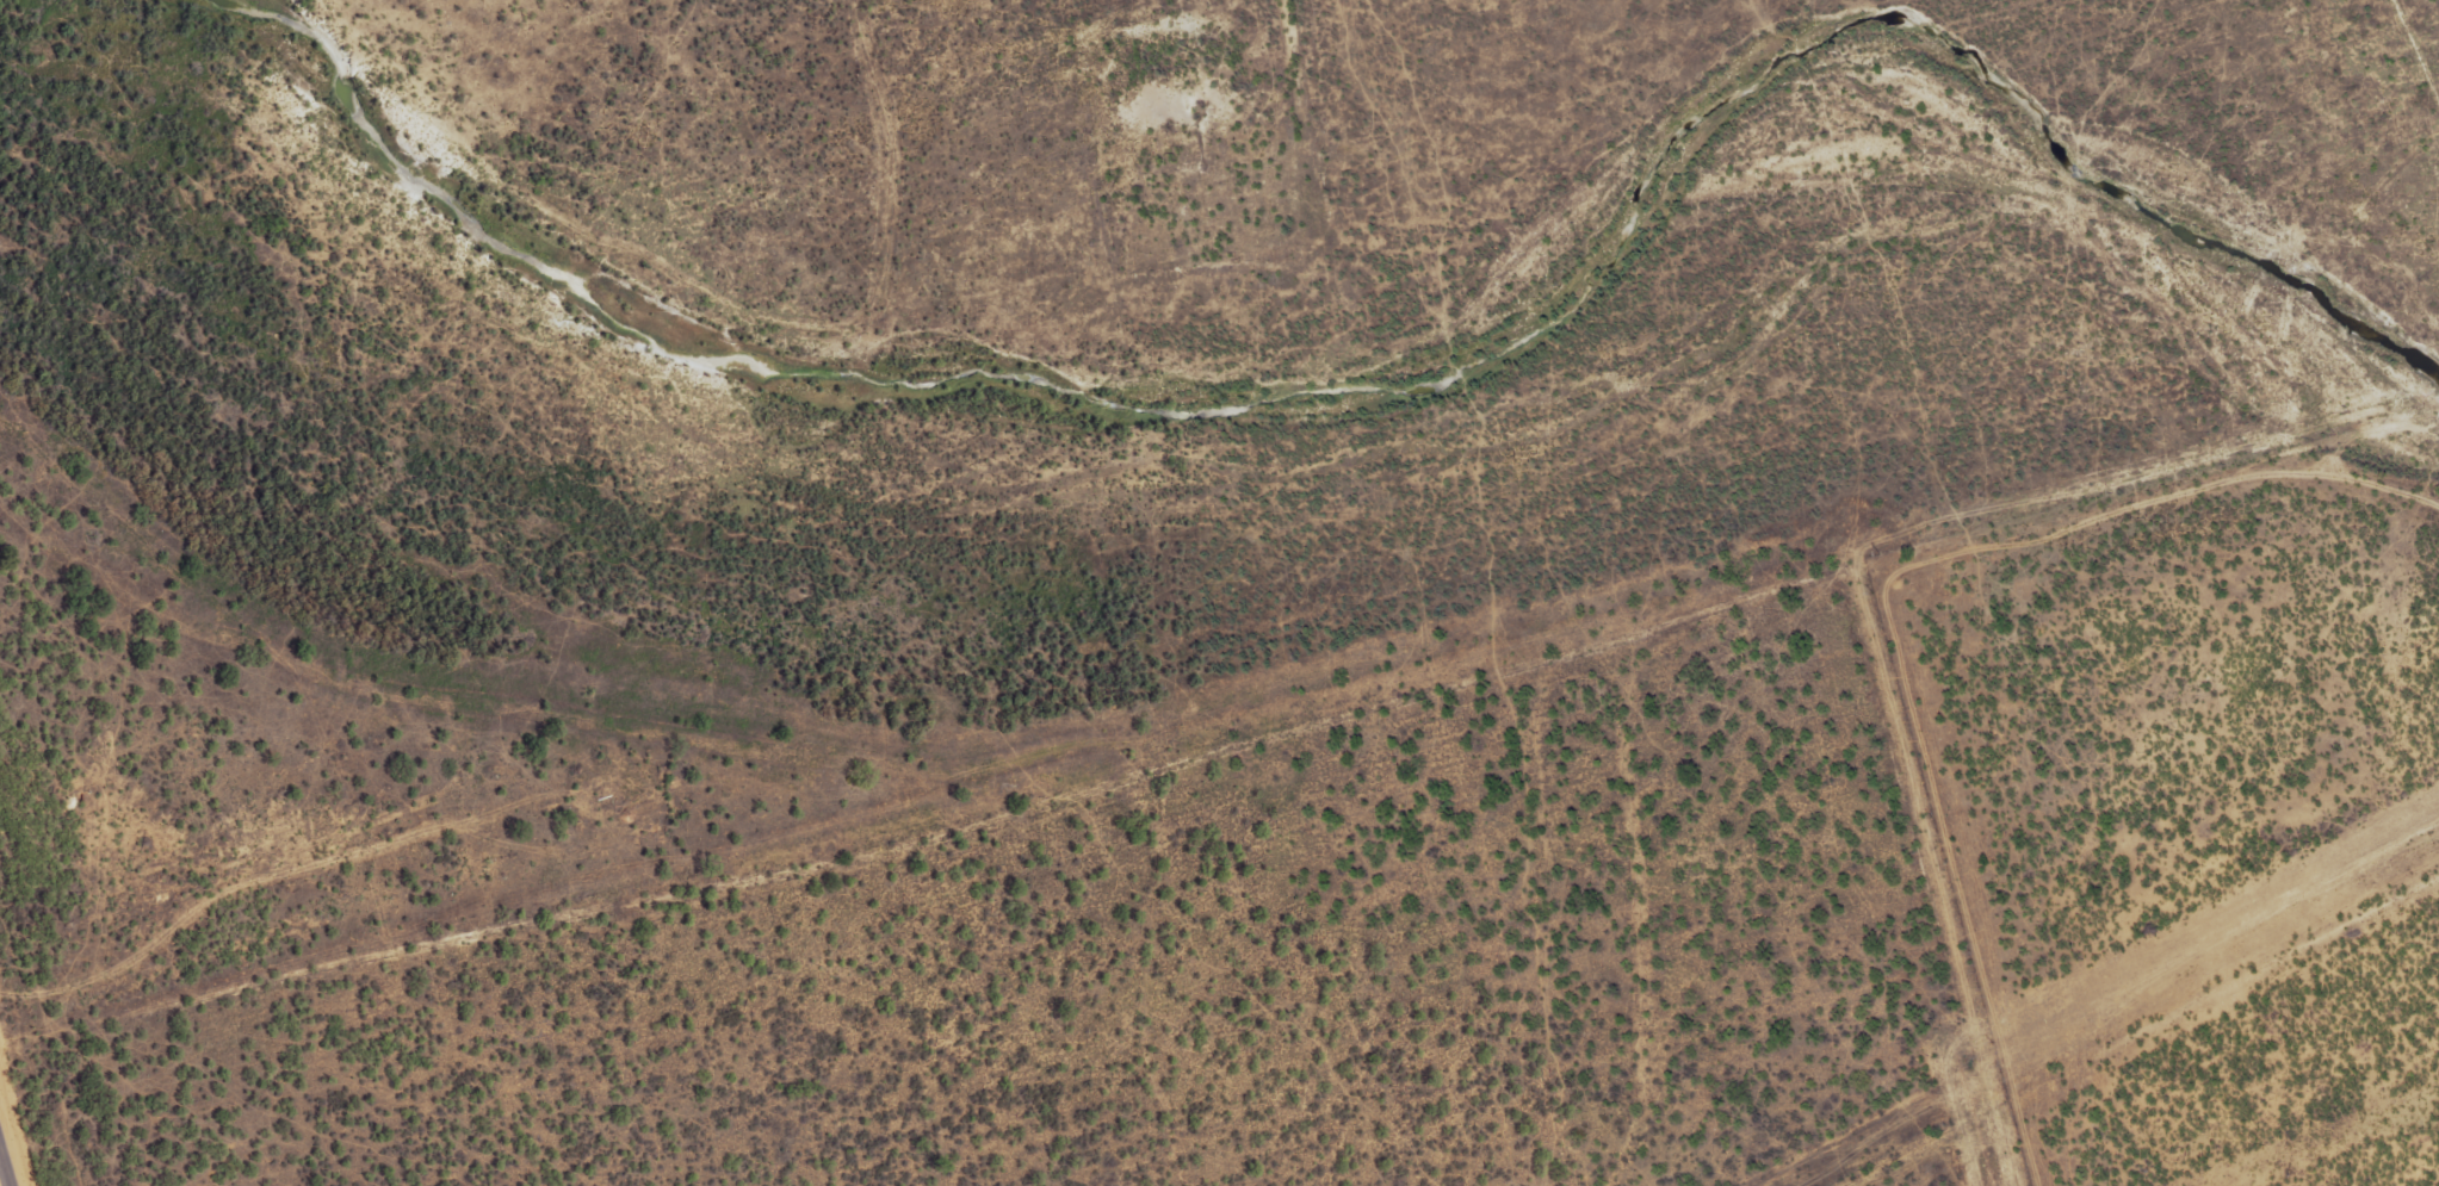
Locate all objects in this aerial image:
river: (1276, 352)
road: (11, 1145)

